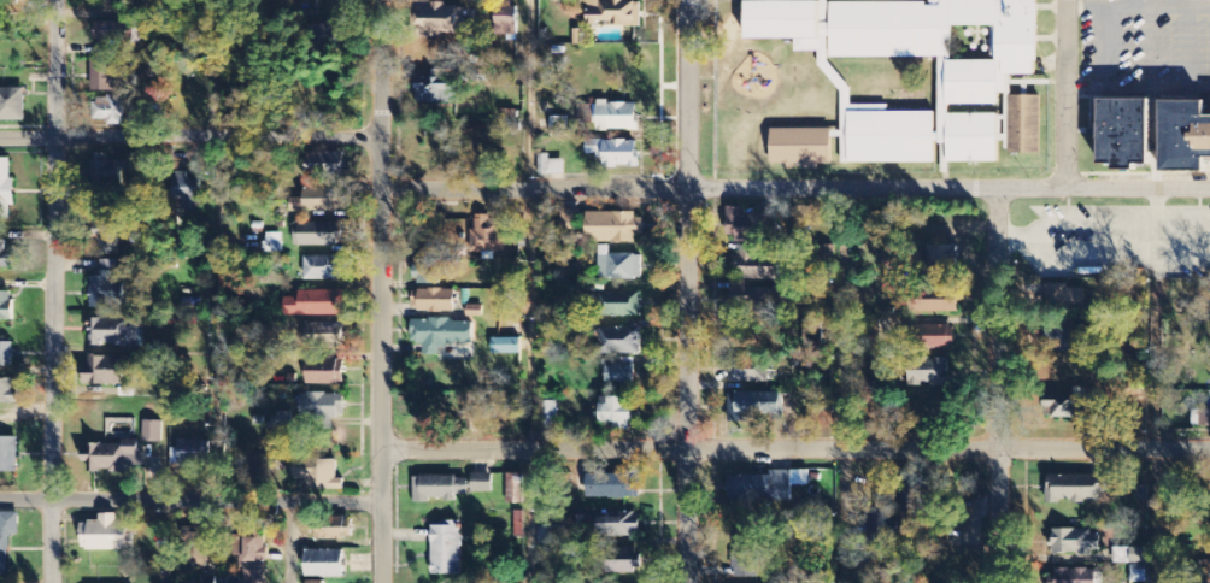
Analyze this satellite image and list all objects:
building: (615, 13)
building: (441, 19)
building: (506, 19)
building: (322, 30)
building: (118, 34)
building: (923, 51)
building: (113, 77)
building: (509, 78)
building: (435, 89)
road: (1067, 93)
road: (531, 94)
building: (12, 106)
building: (107, 111)
building: (617, 117)
building: (1024, 125)
building: (1124, 132)
building: (1185, 135)
road: (189, 136)
building: (888, 137)
building: (801, 147)
building: (615, 153)
building: (324, 166)
building: (550, 166)
building: (108, 172)
road: (794, 189)
building: (6, 190)
building: (187, 192)
building: (317, 201)
building: (569, 222)
building: (747, 226)
building: (613, 228)
building: (318, 235)
building: (488, 236)
building: (107, 237)
building: (274, 243)
building: (5, 257)
building: (944, 260)
building: (618, 266)
building: (756, 267)
building: (323, 269)
building: (429, 271)
building: (478, 284)
building: (108, 287)
road: (54, 290)
road: (687, 290)
road: (380, 291)
building: (1064, 298)
building: (754, 299)
building: (433, 301)
building: (316, 305)
building: (622, 305)
building: (6, 307)
building: (939, 307)
building: (113, 334)
building: (324, 335)
building: (441, 335)
building: (936, 336)
building: (617, 341)
building: (1061, 341)
building: (506, 347)
building: (6, 355)
building: (104, 372)
building: (748, 372)
building: (929, 372)
building: (324, 373)
building: (619, 373)
road: (1155, 384)
road: (528, 385)
road: (836, 385)
road: (997, 385)
building: (7, 391)
building: (1064, 405)
building: (756, 406)
building: (322, 407)
building: (617, 413)
building: (550, 419)
building: (283, 420)
building: (152, 432)
road: (794, 448)
building: (190, 454)
building: (8, 455)
building: (112, 458)
building: (318, 475)
building: (482, 483)
building: (610, 487)
building: (766, 487)
building: (439, 489)
building: (515, 489)
building: (1074, 489)
building: (915, 495)
road: (190, 503)
building: (619, 525)
building: (333, 531)
building: (106, 535)
building: (550, 536)
building: (6, 538)
road: (289, 543)
building: (1074, 544)
building: (446, 549)
building: (1130, 556)
building: (742, 559)
building: (254, 560)
building: (623, 561)
building: (324, 565)
building: (1138, 575)
building: (1074, 576)
building: (315, 582)

